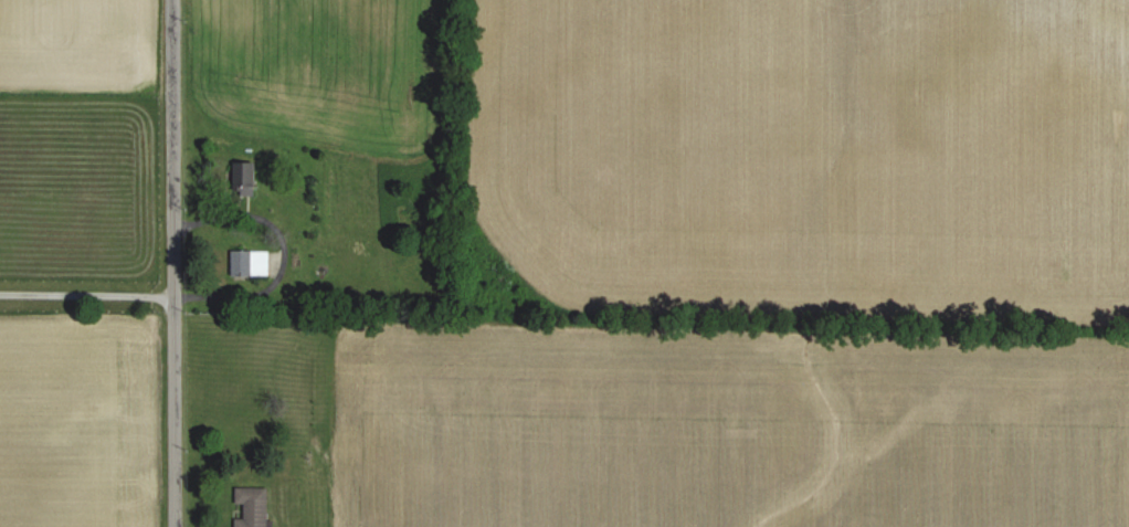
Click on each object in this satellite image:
building: (242, 179)
road: (171, 263)
building: (247, 264)
road: (85, 292)
building: (250, 507)

